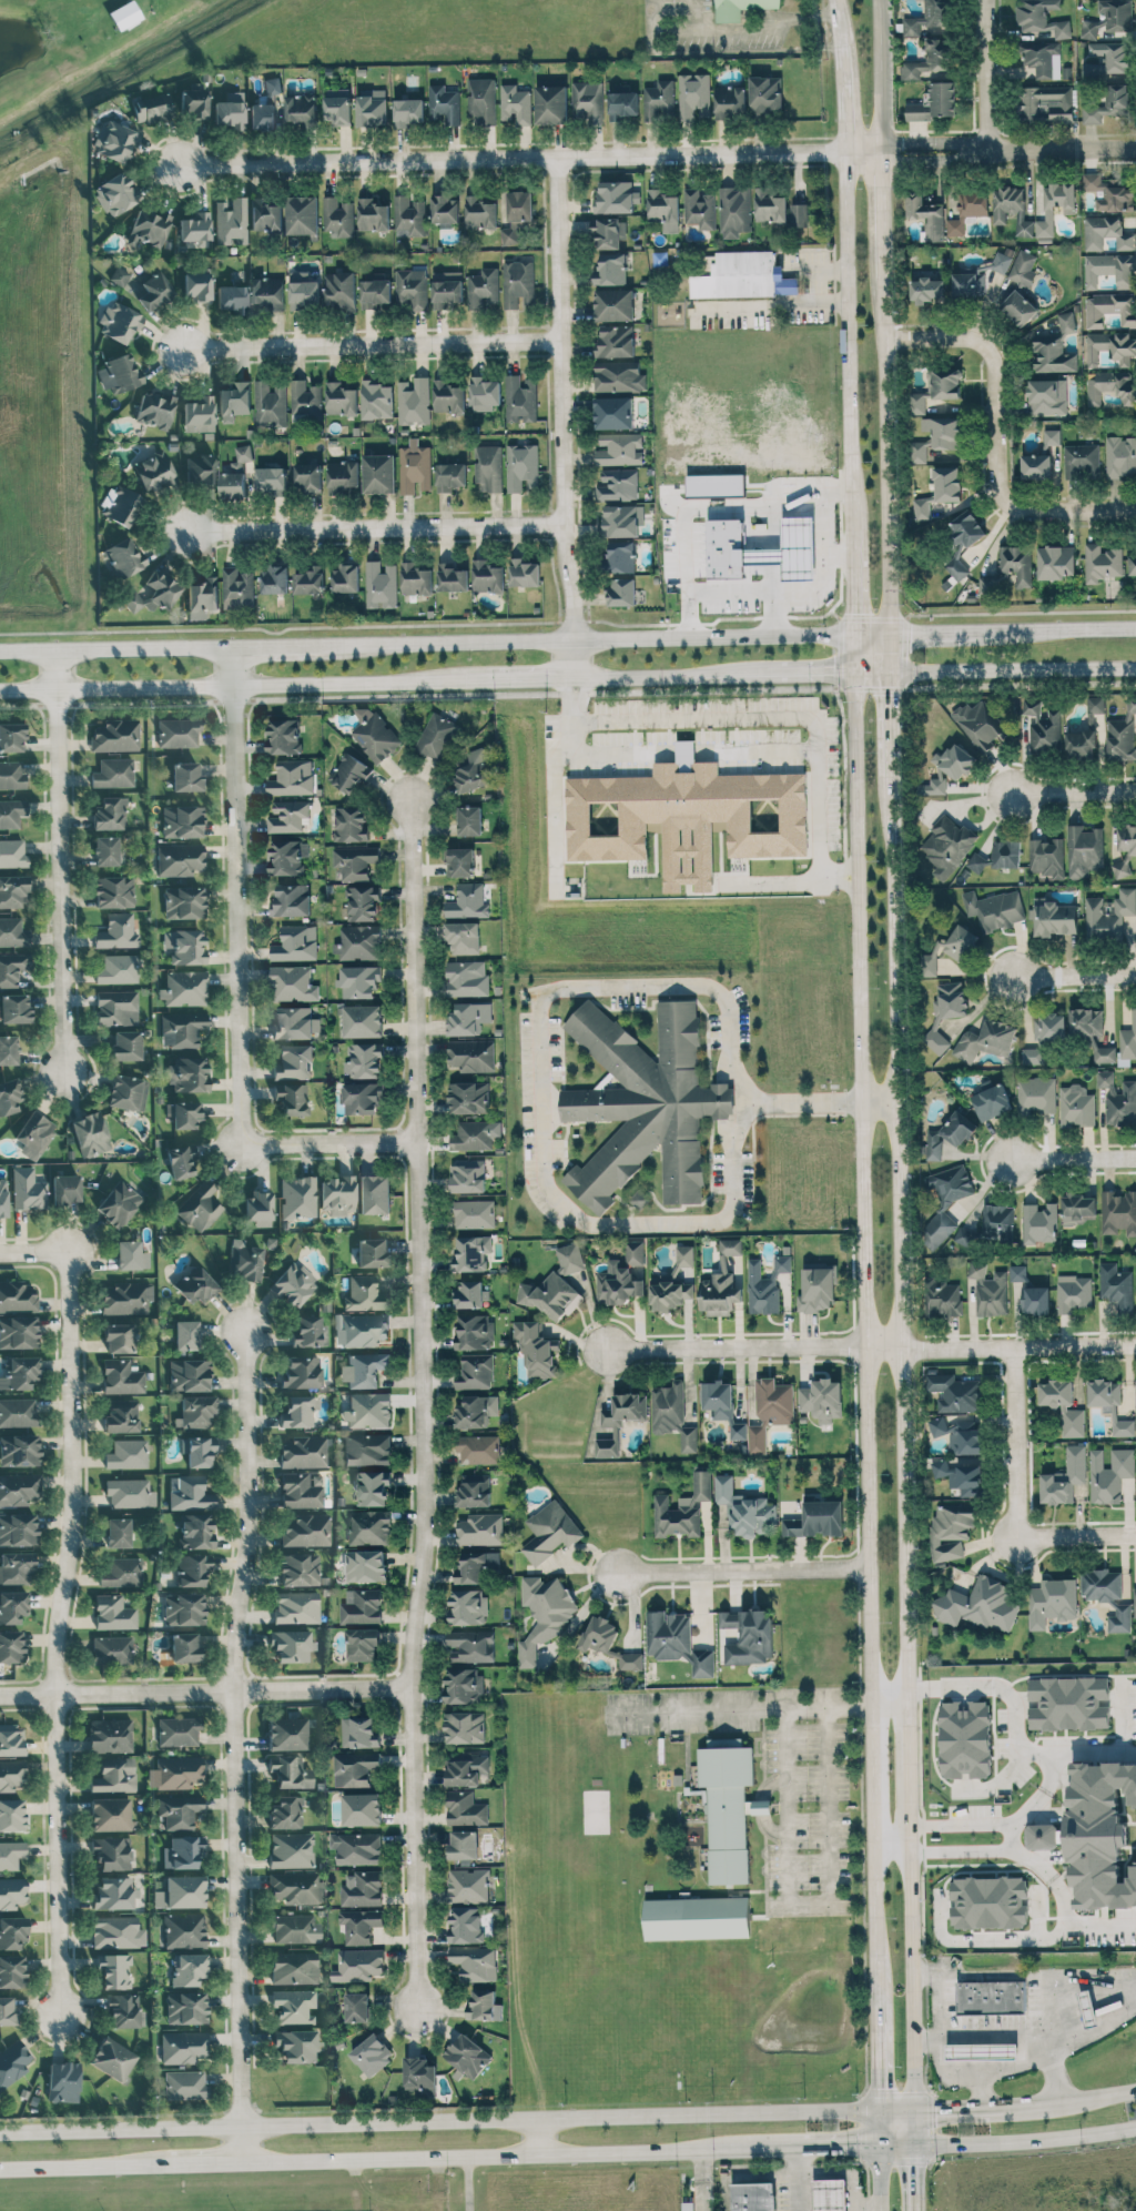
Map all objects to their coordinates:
building: (740, 8)
building: (124, 14)
building: (1041, 18)
building: (1108, 18)
building: (927, 19)
road: (752, 31)
building: (929, 59)
building: (1042, 59)
building: (1107, 59)
road: (990, 71)
road: (879, 74)
building: (272, 85)
building: (694, 95)
building: (588, 100)
building: (660, 100)
building: (480, 101)
building: (730, 101)
building: (934, 102)
building: (193, 103)
building: (1047, 103)
building: (1108, 103)
building: (444, 104)
building: (515, 104)
building: (551, 104)
building: (622, 104)
building: (336, 107)
building: (152, 108)
building: (301, 108)
building: (372, 108)
building: (230, 111)
building: (409, 111)
building: (262, 115)
building: (114, 142)
road: (1007, 142)
road: (529, 160)
building: (1106, 192)
building: (115, 193)
building: (616, 195)
building: (1055, 205)
building: (770, 206)
building: (699, 208)
building: (445, 209)
building: (663, 209)
building: (1011, 209)
building: (734, 210)
building: (967, 210)
building: (480, 212)
road: (881, 212)
building: (410, 213)
building: (265, 214)
building: (302, 214)
building: (373, 214)
building: (517, 214)
building: (799, 214)
building: (338, 215)
building: (926, 216)
building: (231, 220)
building: (194, 225)
building: (149, 226)
building: (607, 232)
building: (1106, 233)
building: (1001, 262)
road: (846, 265)
building: (1023, 267)
building: (610, 269)
building: (1109, 270)
building: (119, 275)
building: (743, 275)
building: (518, 283)
building: (968, 284)
building: (197, 285)
building: (412, 287)
building: (483, 287)
building: (447, 289)
building: (150, 290)
building: (303, 290)
building: (926, 290)
building: (339, 291)
building: (267, 292)
building: (375, 292)
building: (232, 297)
road: (773, 303)
building: (613, 304)
building: (1018, 307)
building: (1066, 321)
building: (119, 322)
building: (615, 340)
road: (373, 346)
building: (1110, 346)
building: (1052, 353)
building: (118, 373)
building: (618, 375)
building: (936, 387)
building: (485, 392)
building: (449, 395)
building: (1047, 396)
building: (305, 398)
building: (341, 398)
building: (377, 398)
building: (520, 398)
building: (234, 401)
building: (414, 401)
building: (270, 404)
building: (154, 408)
building: (613, 412)
building: (199, 414)
road: (564, 420)
building: (944, 431)
building: (1051, 437)
road: (994, 440)
building: (619, 448)
building: (919, 451)
road: (884, 453)
building: (1120, 455)
building: (1081, 458)
building: (1036, 465)
building: (521, 466)
building: (488, 467)
building: (201, 468)
building: (415, 468)
building: (154, 471)
building: (378, 472)
building: (239, 474)
building: (308, 476)
building: (343, 476)
building: (450, 476)
building: (274, 479)
building: (618, 484)
building: (940, 491)
road: (828, 515)
building: (620, 521)
road: (376, 525)
building: (620, 555)
building: (124, 556)
building: (1056, 562)
building: (1102, 562)
building: (1016, 564)
building: (1132, 564)
building: (524, 573)
building: (488, 576)
building: (453, 577)
building: (346, 578)
building: (416, 578)
building: (274, 579)
building: (311, 579)
road: (852, 582)
building: (381, 584)
building: (987, 584)
building: (237, 588)
building: (620, 592)
road: (763, 592)
building: (152, 593)
building: (202, 597)
road: (779, 614)
road: (1012, 630)
road: (605, 638)
road: (278, 645)
road: (118, 647)
road: (889, 652)
road: (1013, 668)
road: (871, 673)
road: (814, 675)
road: (674, 678)
road: (516, 682)
road: (229, 687)
building: (1096, 704)
road: (790, 717)
road: (890, 724)
building: (980, 724)
building: (1042, 725)
building: (179, 731)
building: (283, 734)
building: (374, 734)
building: (114, 735)
building: (1123, 735)
building: (437, 736)
building: (11, 737)
building: (1081, 745)
road: (576, 755)
road: (767, 757)
building: (946, 769)
building: (473, 770)
building: (113, 773)
building: (349, 774)
building: (11, 775)
building: (185, 777)
building: (293, 778)
road: (1068, 792)
road: (555, 810)
building: (11, 811)
building: (110, 814)
building: (288, 816)
building: (687, 816)
building: (470, 820)
building: (182, 821)
building: (351, 824)
building: (947, 844)
building: (1083, 850)
building: (1124, 850)
building: (108, 851)
building: (12, 852)
building: (1000, 855)
building: (287, 856)
building: (1047, 857)
building: (180, 859)
road: (61, 860)
building: (355, 861)
building: (459, 861)
road: (769, 880)
building: (13, 890)
building: (113, 891)
building: (291, 899)
building: (468, 900)
building: (183, 902)
building: (363, 902)
building: (994, 909)
building: (1108, 913)
building: (1054, 917)
building: (116, 931)
building: (12, 932)
building: (463, 937)
building: (359, 941)
building: (296, 942)
building: (185, 946)
building: (950, 948)
building: (12, 968)
building: (118, 969)
road: (1075, 975)
building: (467, 978)
building: (359, 980)
road: (241, 981)
building: (291, 982)
building: (184, 988)
building: (950, 1000)
building: (14, 1008)
building: (115, 1008)
building: (468, 1018)
building: (363, 1020)
building: (1086, 1021)
building: (295, 1023)
building: (182, 1029)
building: (1044, 1037)
building: (1128, 1039)
building: (936, 1040)
building: (986, 1040)
building: (125, 1044)
building: (8, 1049)
building: (1105, 1053)
building: (471, 1054)
building: (364, 1060)
building: (293, 1061)
building: (187, 1073)
building: (1105, 1078)
building: (126, 1092)
building: (1036, 1093)
building: (9, 1096)
building: (362, 1097)
building: (469, 1097)
building: (291, 1098)
building: (992, 1101)
building: (645, 1103)
building: (1122, 1104)
building: (1076, 1107)
building: (185, 1114)
building: (90, 1133)
building: (34, 1134)
building: (475, 1134)
building: (949, 1134)
road: (1073, 1155)
building: (181, 1161)
road: (542, 1171)
building: (469, 1175)
building: (65, 1188)
building: (28, 1189)
building: (374, 1193)
building: (336, 1194)
building: (297, 1197)
building: (639, 1199)
building: (945, 1199)
building: (3, 1200)
building: (118, 1203)
building: (200, 1207)
building: (258, 1208)
building: (1077, 1209)
building: (1118, 1212)
building: (474, 1213)
building: (998, 1219)
building: (1039, 1222)
road: (862, 1230)
building: (963, 1236)
road: (897, 1240)
building: (635, 1250)
building: (471, 1252)
building: (371, 1253)
building: (130, 1255)
building: (569, 1258)
building: (243, 1261)
building: (1017, 1272)
building: (1135, 1272)
building: (721, 1282)
building: (293, 1283)
building: (673, 1283)
building: (618, 1284)
building: (765, 1284)
building: (195, 1285)
building: (1116, 1285)
building: (816, 1288)
building: (990, 1290)
building: (1073, 1292)
building: (470, 1293)
building: (364, 1294)
building: (550, 1295)
building: (17, 1296)
building: (126, 1298)
building: (942, 1299)
building: (1035, 1300)
building: (361, 1329)
building: (307, 1331)
building: (474, 1331)
building: (18, 1332)
building: (185, 1334)
building: (119, 1337)
road: (874, 1345)
building: (536, 1349)
building: (364, 1369)
building: (475, 1370)
building: (19, 1372)
building: (301, 1372)
building: (189, 1375)
building: (122, 1376)
building: (955, 1393)
building: (718, 1399)
building: (822, 1399)
road: (425, 1404)
building: (1110, 1404)
building: (1063, 1405)
building: (367, 1410)
building: (770, 1410)
building: (195, 1411)
building: (298, 1411)
building: (476, 1411)
building: (18, 1412)
building: (672, 1413)
building: (121, 1415)
building: (619, 1421)
building: (738, 1431)
building: (957, 1434)
building: (367, 1448)
building: (478, 1448)
building: (19, 1450)
building: (197, 1450)
building: (304, 1452)
road: (1020, 1452)
building: (126, 1454)
building: (1109, 1473)
building: (957, 1475)
building: (1065, 1477)
building: (373, 1487)
building: (18, 1488)
building: (302, 1490)
building: (474, 1491)
building: (130, 1493)
building: (682, 1508)
building: (744, 1508)
building: (193, 1511)
building: (816, 1520)
building: (369, 1527)
building: (480, 1528)
building: (18, 1529)
building: (306, 1529)
building: (550, 1531)
building: (951, 1531)
building: (118, 1532)
road: (1092, 1535)
building: (366, 1565)
building: (476, 1565)
building: (16, 1567)
building: (192, 1569)
building: (298, 1569)
road: (741, 1571)
building: (121, 1572)
building: (1100, 1584)
road: (62, 1597)
building: (1052, 1602)
building: (1135, 1602)
building: (981, 1605)
building: (12, 1606)
building: (362, 1606)
building: (295, 1607)
building: (467, 1607)
building: (183, 1608)
building: (113, 1612)
building: (544, 1614)
building: (1119, 1618)
building: (749, 1635)
building: (676, 1640)
building: (608, 1642)
building: (363, 1644)
building: (291, 1645)
building: (470, 1645)
building: (11, 1646)
building: (184, 1647)
building: (111, 1649)
building: (463, 1685)
road: (207, 1694)
building: (1068, 1703)
road: (890, 1705)
road: (740, 1710)
road: (1119, 1717)
building: (465, 1727)
road: (1015, 1727)
building: (177, 1730)
building: (359, 1732)
building: (286, 1734)
building: (110, 1735)
road: (910, 1736)
building: (11, 1739)
building: (964, 1739)
road: (236, 1741)
building: (466, 1767)
building: (355, 1768)
building: (290, 1770)
building: (175, 1773)
building: (11, 1774)
building: (114, 1775)
road: (1044, 1794)
road: (911, 1797)
road: (826, 1806)
road: (788, 1807)
building: (362, 1808)
building: (465, 1808)
building: (179, 1809)
building: (728, 1809)
building: (285, 1813)
building: (11, 1814)
building: (109, 1814)
road: (962, 1824)
road: (892, 1827)
building: (1099, 1834)
road: (1013, 1835)
building: (1042, 1836)
road: (912, 1838)
road: (872, 1839)
building: (463, 1844)
building: (356, 1847)
building: (291, 1849)
road: (892, 1849)
road: (963, 1849)
building: (182, 1852)
building: (11, 1854)
road: (1051, 1877)
building: (468, 1885)
building: (296, 1887)
building: (362, 1888)
building: (11, 1891)
building: (113, 1891)
building: (181, 1891)
building: (988, 1901)
road: (810, 1905)
building: (697, 1917)
road: (874, 1921)
building: (359, 1925)
building: (466, 1925)
building: (295, 1928)
building: (184, 1930)
building: (12, 1931)
building: (116, 1931)
road: (1020, 1939)
building: (474, 1962)
building: (358, 1965)
building: (294, 1967)
building: (187, 1968)
building: (114, 1970)
building: (11, 1971)
road: (912, 1982)
building: (992, 1997)
building: (294, 2006)
building: (185, 2007)
building: (357, 2007)
building: (1087, 2008)
building: (7, 2010)
building: (123, 2010)
road: (937, 2028)
road: (995, 2035)
road: (925, 2040)
building: (296, 2045)
road: (1059, 2046)
building: (183, 2047)
building: (982, 2051)
building: (371, 2053)
building: (467, 2054)
road: (878, 2054)
building: (112, 2058)
building: (12, 2062)
building: (420, 2076)
road: (1051, 2077)
building: (63, 2081)
building: (184, 2084)
road: (977, 2091)
road: (1086, 2097)
road: (975, 2110)
traffic signals: (879, 2117)
road: (896, 2117)
traffic signals: (914, 2117)
road: (879, 2131)
road: (914, 2131)
road: (439, 2133)
road: (1025, 2139)
road: (540, 2142)
traffic signals: (879, 2146)
road: (896, 2146)
traffic signals: (915, 2146)
road: (836, 2147)
road: (516, 2156)
road: (202, 2163)
road: (83, 2165)
road: (707, 2172)
road: (699, 2173)
road: (879, 2178)
road: (915, 2178)
road: (795, 2179)
building: (830, 2194)
building: (753, 2197)
road: (703, 2202)
building: (687, 2205)

